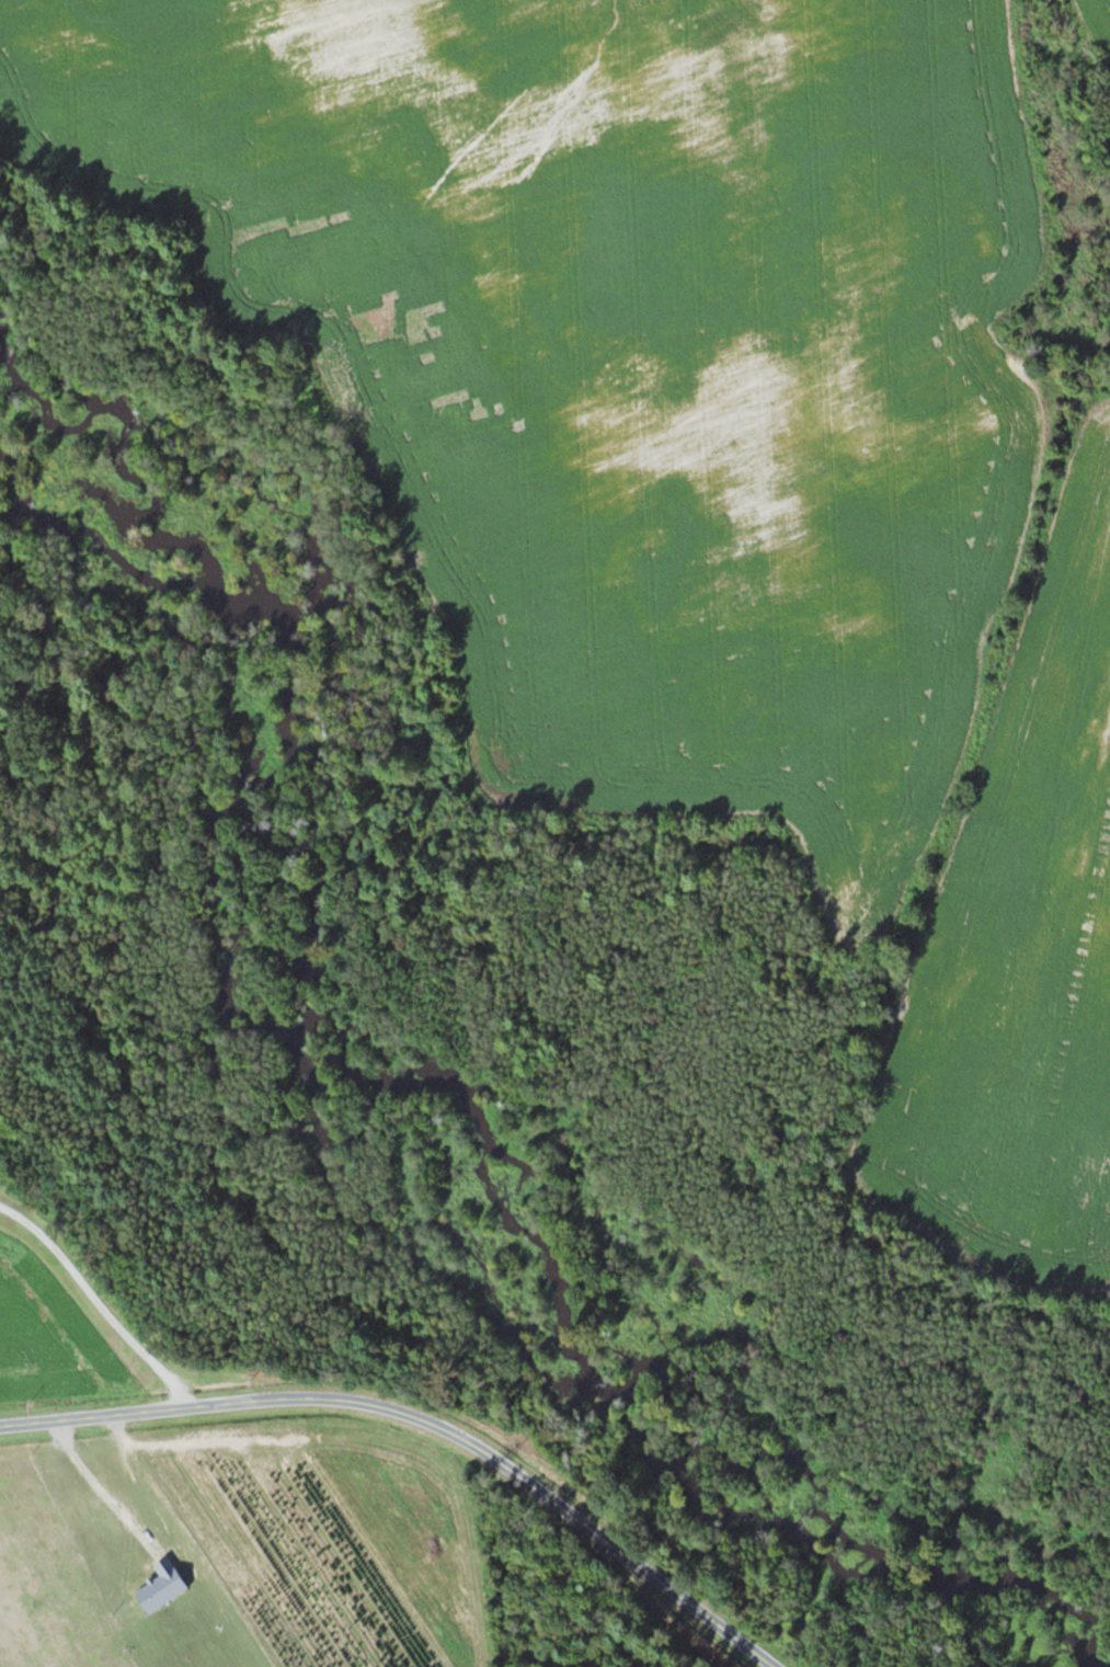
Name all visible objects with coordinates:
road: (98, 1302)
road: (425, 1418)

